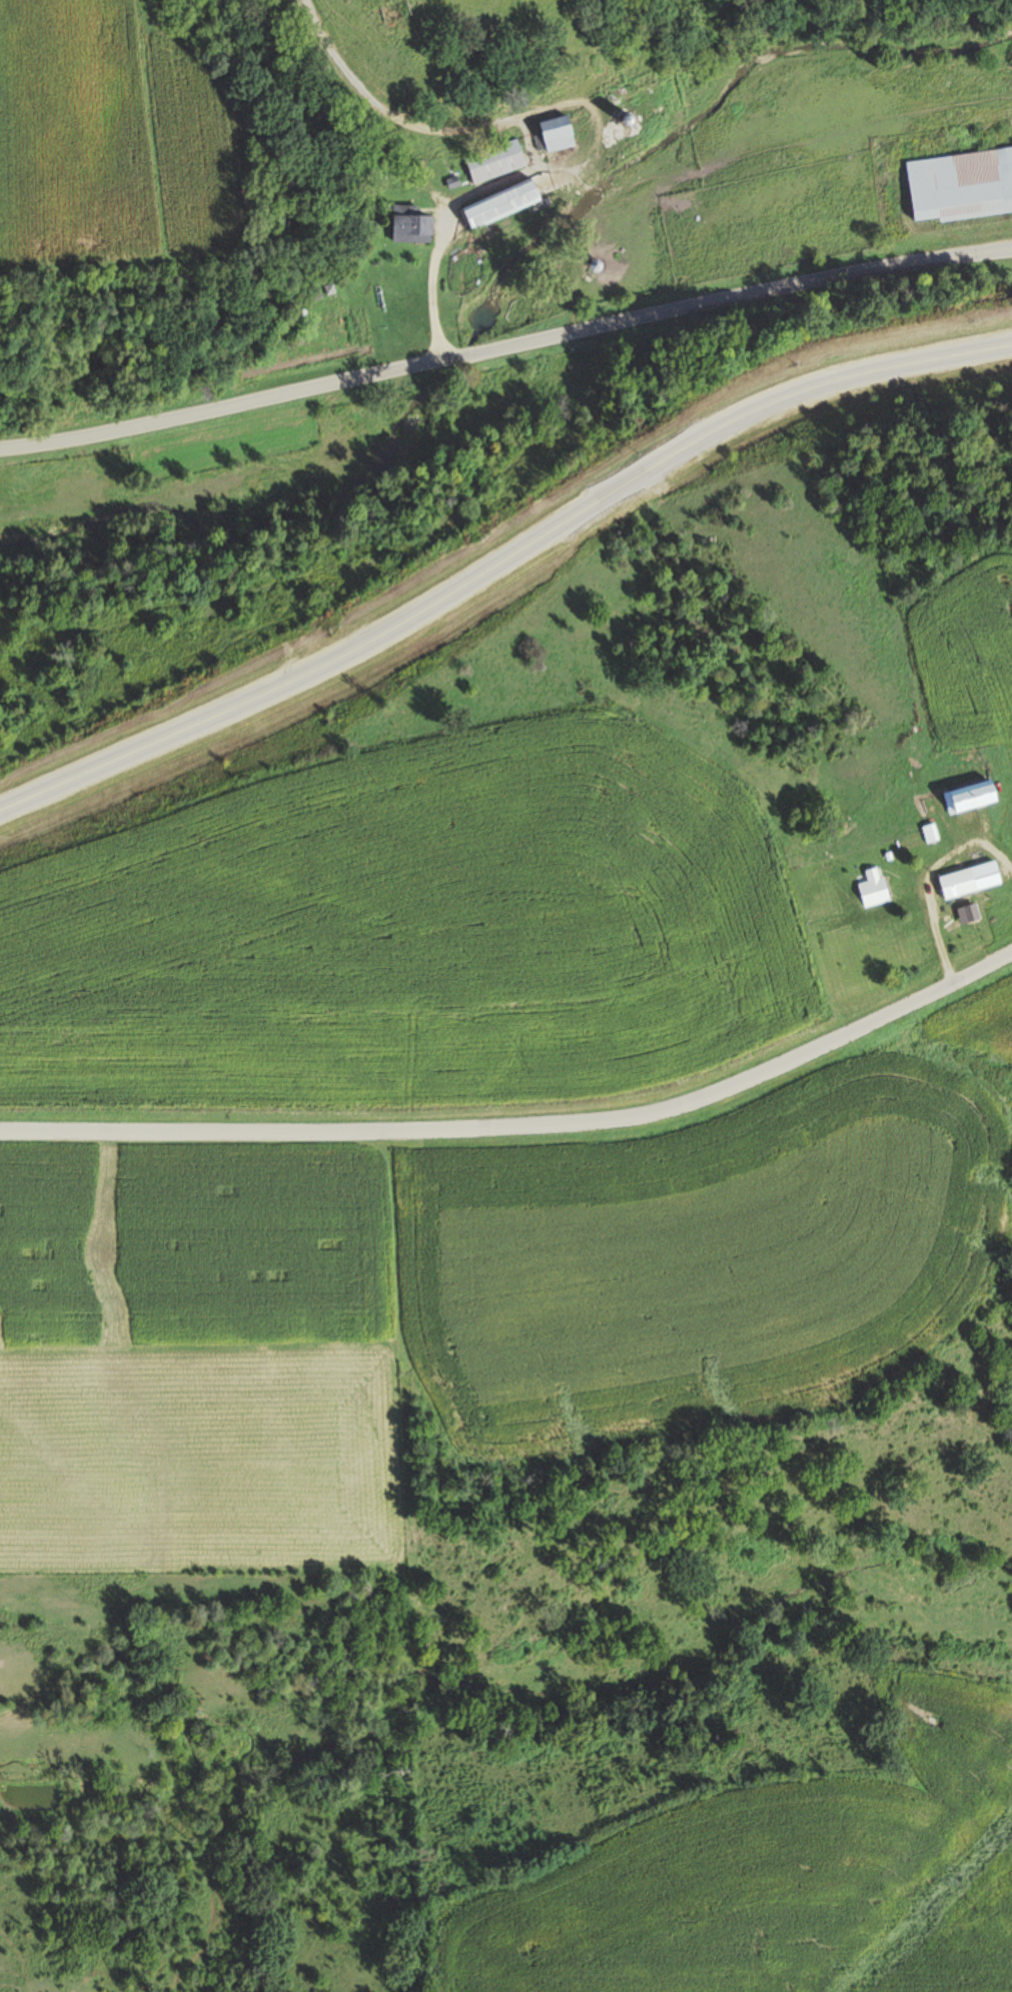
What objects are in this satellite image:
building: (554, 133)
building: (494, 160)
building: (960, 185)
building: (499, 204)
building: (409, 220)
road: (504, 329)
road: (501, 561)
building: (968, 797)
building: (1011, 822)
building: (934, 836)
building: (956, 883)
building: (872, 888)
road: (524, 1127)

